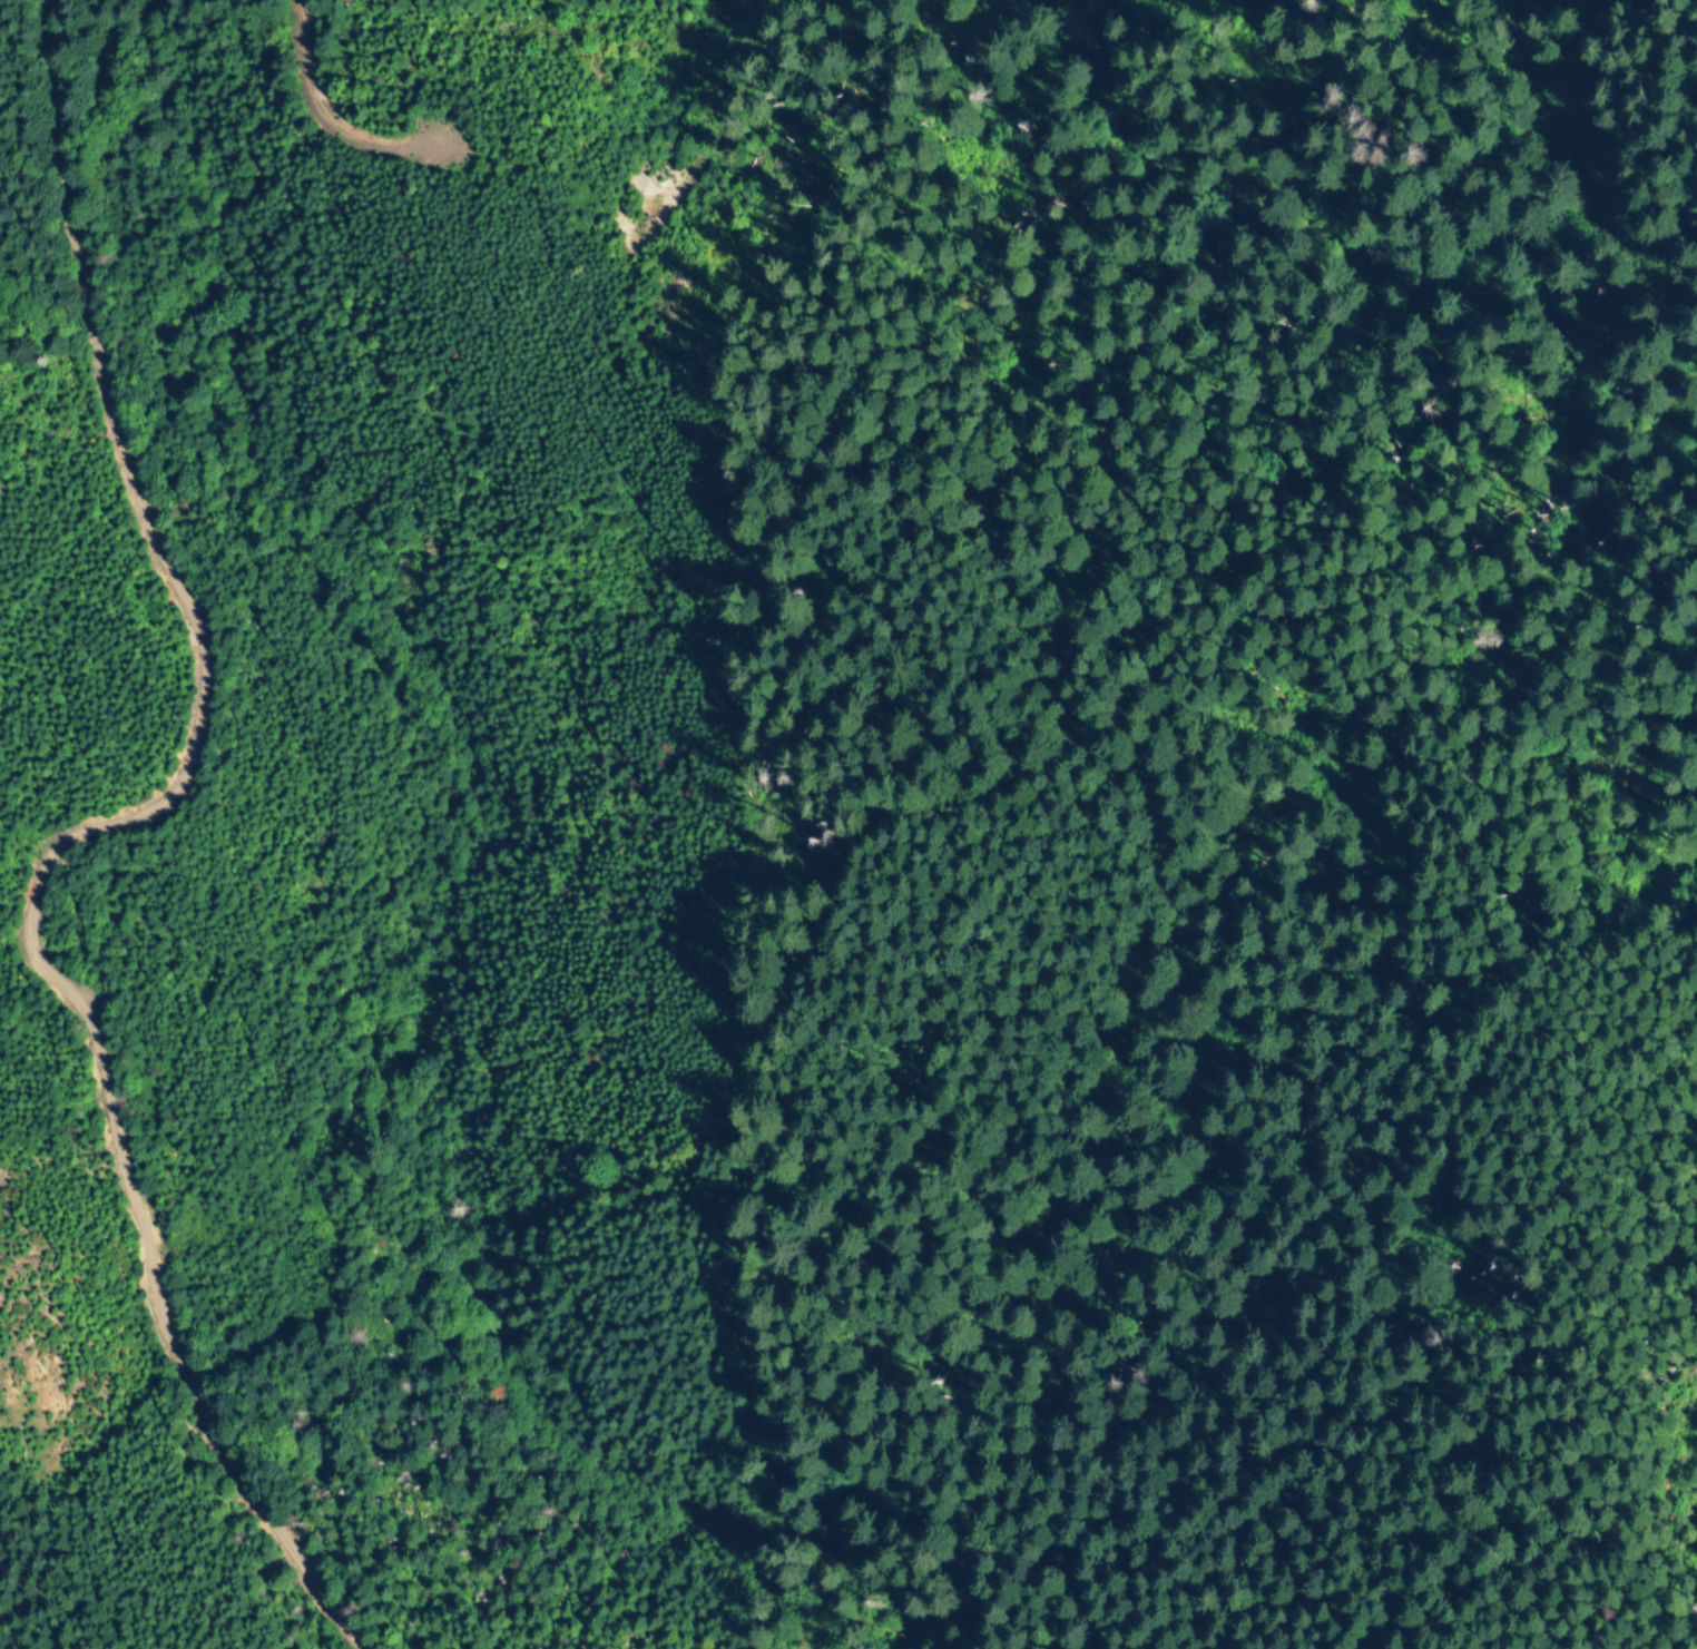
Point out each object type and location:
road: (331, 116)
road: (89, 837)

